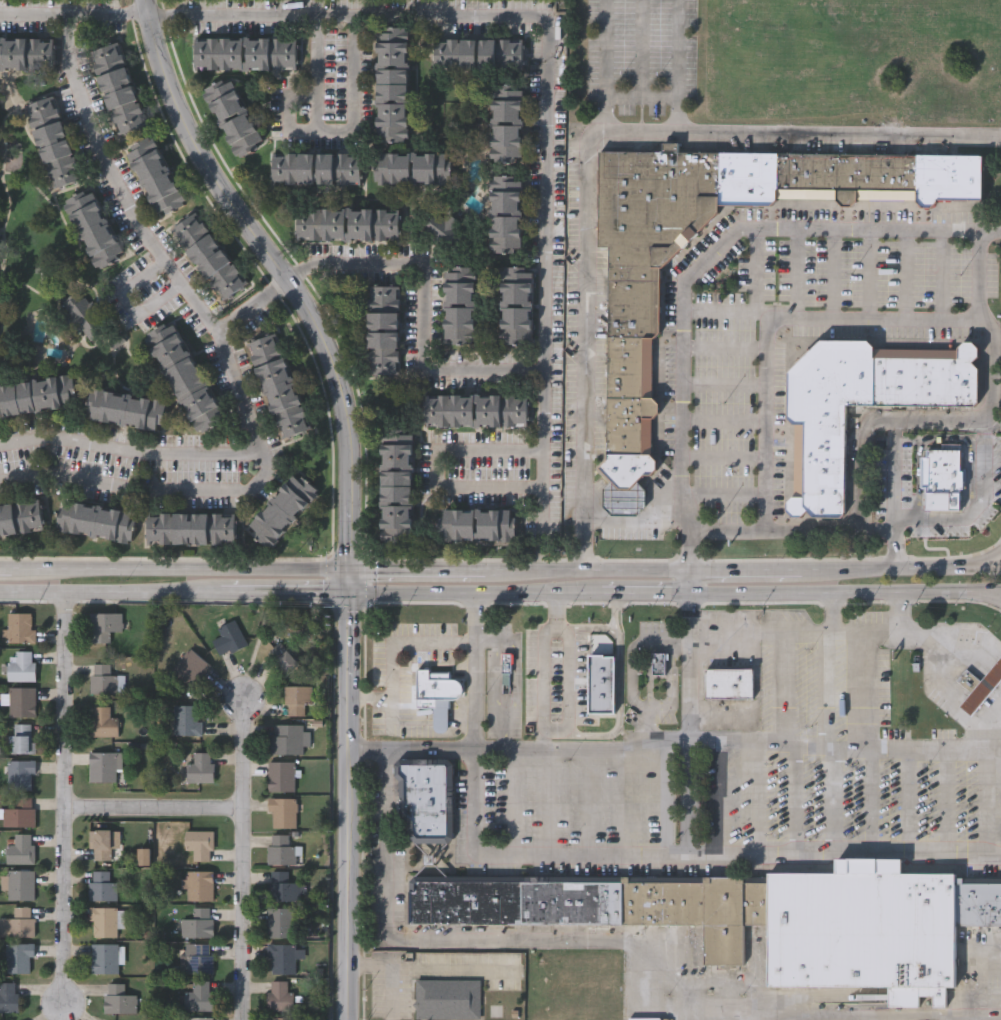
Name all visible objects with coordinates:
road: (147, 6)
road: (90, 14)
road: (355, 14)
building: (26, 54)
building: (247, 54)
building: (479, 55)
road: (605, 67)
road: (677, 67)
building: (393, 85)
building: (118, 89)
building: (234, 117)
building: (508, 123)
building: (0, 129)
road: (333, 130)
building: (54, 142)
road: (582, 144)
building: (413, 168)
building: (317, 169)
building: (156, 176)
building: (847, 177)
building: (653, 202)
building: (506, 214)
building: (349, 224)
building: (94, 227)
building: (450, 229)
road: (150, 239)
building: (210, 257)
road: (701, 264)
building: (0, 267)
road: (797, 271)
road: (832, 272)
road: (868, 272)
road: (906, 273)
road: (944, 273)
road: (544, 274)
road: (757, 274)
road: (287, 282)
road: (269, 294)
road: (131, 302)
building: (461, 305)
building: (517, 306)
road: (719, 310)
building: (82, 313)
road: (767, 317)
road: (425, 319)
building: (385, 331)
road: (724, 348)
building: (631, 356)
road: (992, 363)
building: (185, 376)
road: (724, 380)
building: (279, 386)
building: (37, 397)
building: (125, 410)
building: (477, 411)
road: (955, 415)
road: (725, 419)
road: (129, 449)
road: (725, 456)
building: (819, 457)
road: (438, 465)
building: (628, 468)
building: (942, 476)
road: (145, 488)
building: (398, 490)
road: (725, 495)
building: (624, 499)
building: (284, 509)
building: (21, 518)
building: (96, 521)
road: (631, 521)
building: (478, 525)
building: (192, 528)
road: (830, 530)
road: (542, 558)
road: (975, 565)
road: (874, 569)
road: (974, 569)
road: (5, 570)
road: (180, 570)
road: (743, 570)
road: (585, 571)
traffic signals: (350, 572)
road: (394, 572)
road: (462, 572)
road: (686, 582)
road: (98, 593)
road: (981, 593)
road: (273, 594)
traffic signals: (350, 594)
road: (645, 594)
road: (825, 594)
road: (475, 595)
road: (981, 597)
road: (617, 610)
building: (104, 624)
building: (20, 626)
road: (929, 635)
building: (229, 636)
road: (866, 637)
road: (783, 638)
road: (492, 643)
road: (389, 646)
building: (284, 658)
road: (517, 658)
building: (658, 665)
building: (22, 666)
building: (190, 666)
road: (475, 672)
road: (618, 672)
road: (632, 673)
building: (104, 679)
building: (601, 683)
building: (730, 683)
building: (979, 687)
road: (785, 693)
road: (834, 693)
road: (866, 693)
building: (437, 694)
road: (950, 697)
building: (297, 698)
building: (22, 701)
building: (186, 719)
building: (102, 721)
road: (689, 724)
road: (394, 725)
road: (441, 726)
road: (461, 726)
road: (546, 727)
building: (20, 738)
building: (289, 738)
road: (547, 741)
road: (249, 744)
road: (674, 749)
building: (104, 766)
building: (201, 767)
building: (19, 773)
building: (281, 775)
road: (71, 793)
road: (160, 796)
road: (348, 796)
building: (427, 800)
road: (794, 800)
road: (509, 801)
road: (547, 801)
road: (622, 801)
road: (835, 801)
road: (871, 801)
road: (908, 801)
road: (948, 801)
road: (982, 801)
road: (583, 802)
road: (725, 802)
road: (757, 802)
parking lot: (714, 806)
road: (474, 807)
building: (18, 811)
building: (282, 812)
building: (200, 843)
building: (101, 844)
building: (19, 849)
building: (281, 849)
road: (731, 855)
building: (20, 884)
building: (101, 884)
building: (200, 885)
building: (283, 885)
building: (978, 904)
building: (603, 906)
road: (246, 908)
building: (103, 921)
building: (280, 921)
building: (20, 922)
building: (198, 922)
building: (865, 930)
road: (519, 939)
building: (18, 958)
building: (104, 958)
building: (199, 958)
building: (282, 958)
road: (389, 972)
building: (199, 995)
building: (280, 995)
building: (8, 996)
building: (118, 999)
building: (447, 1000)
road: (879, 1013)
building: (199, 1018)

